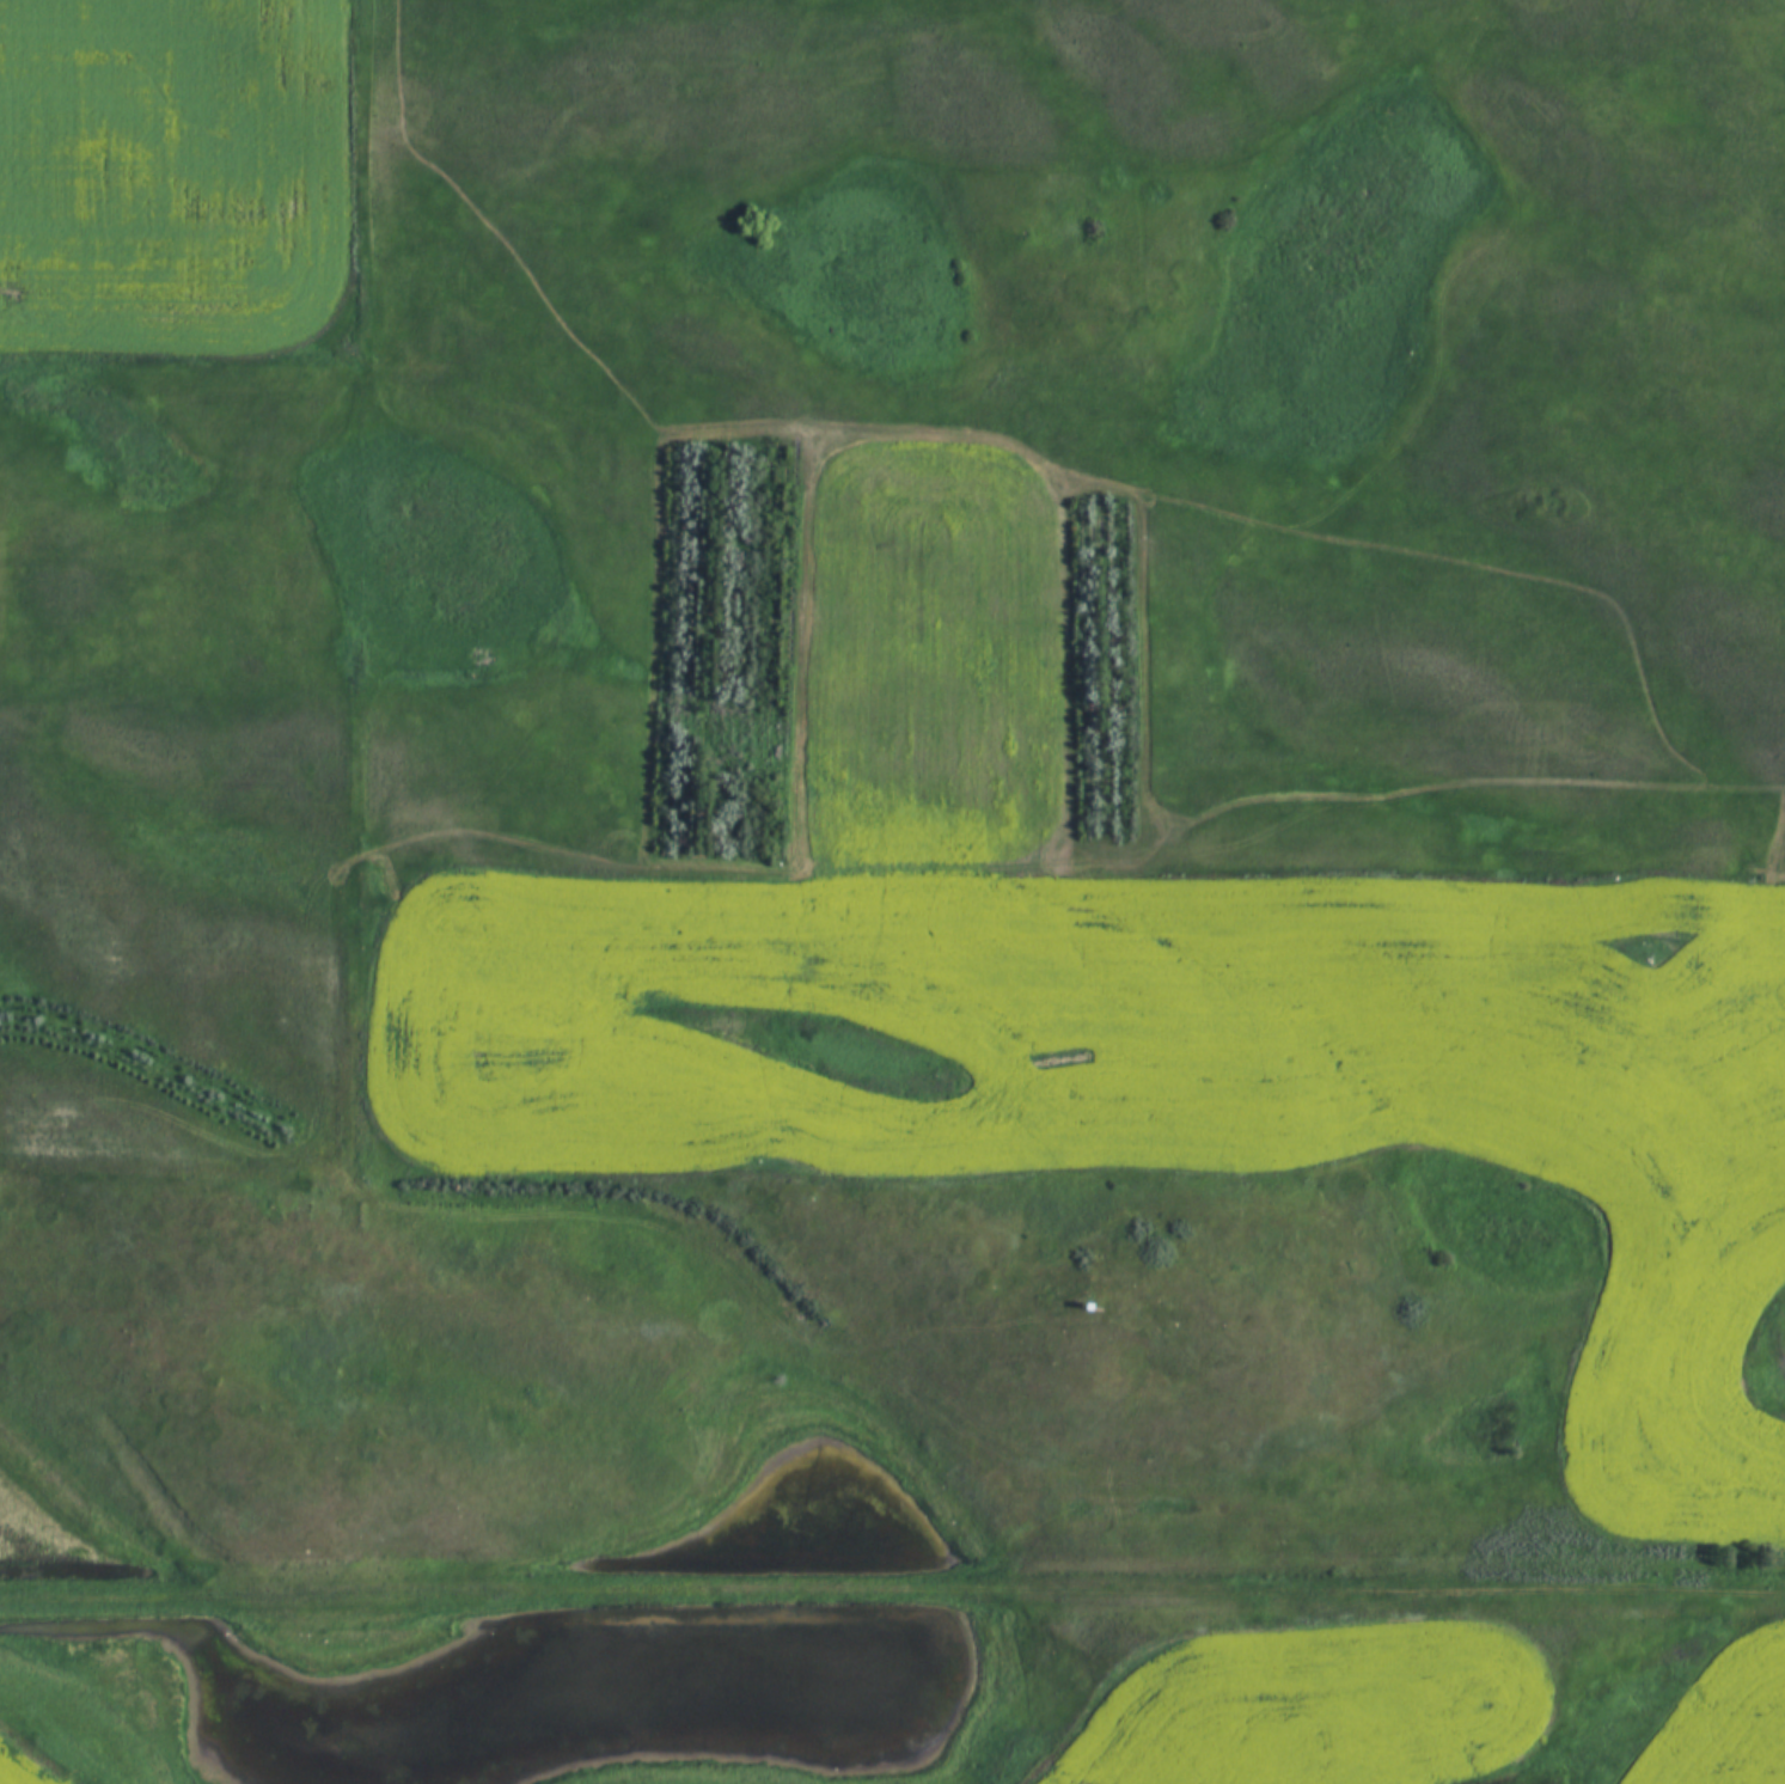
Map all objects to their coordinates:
road: (892, 1588)

